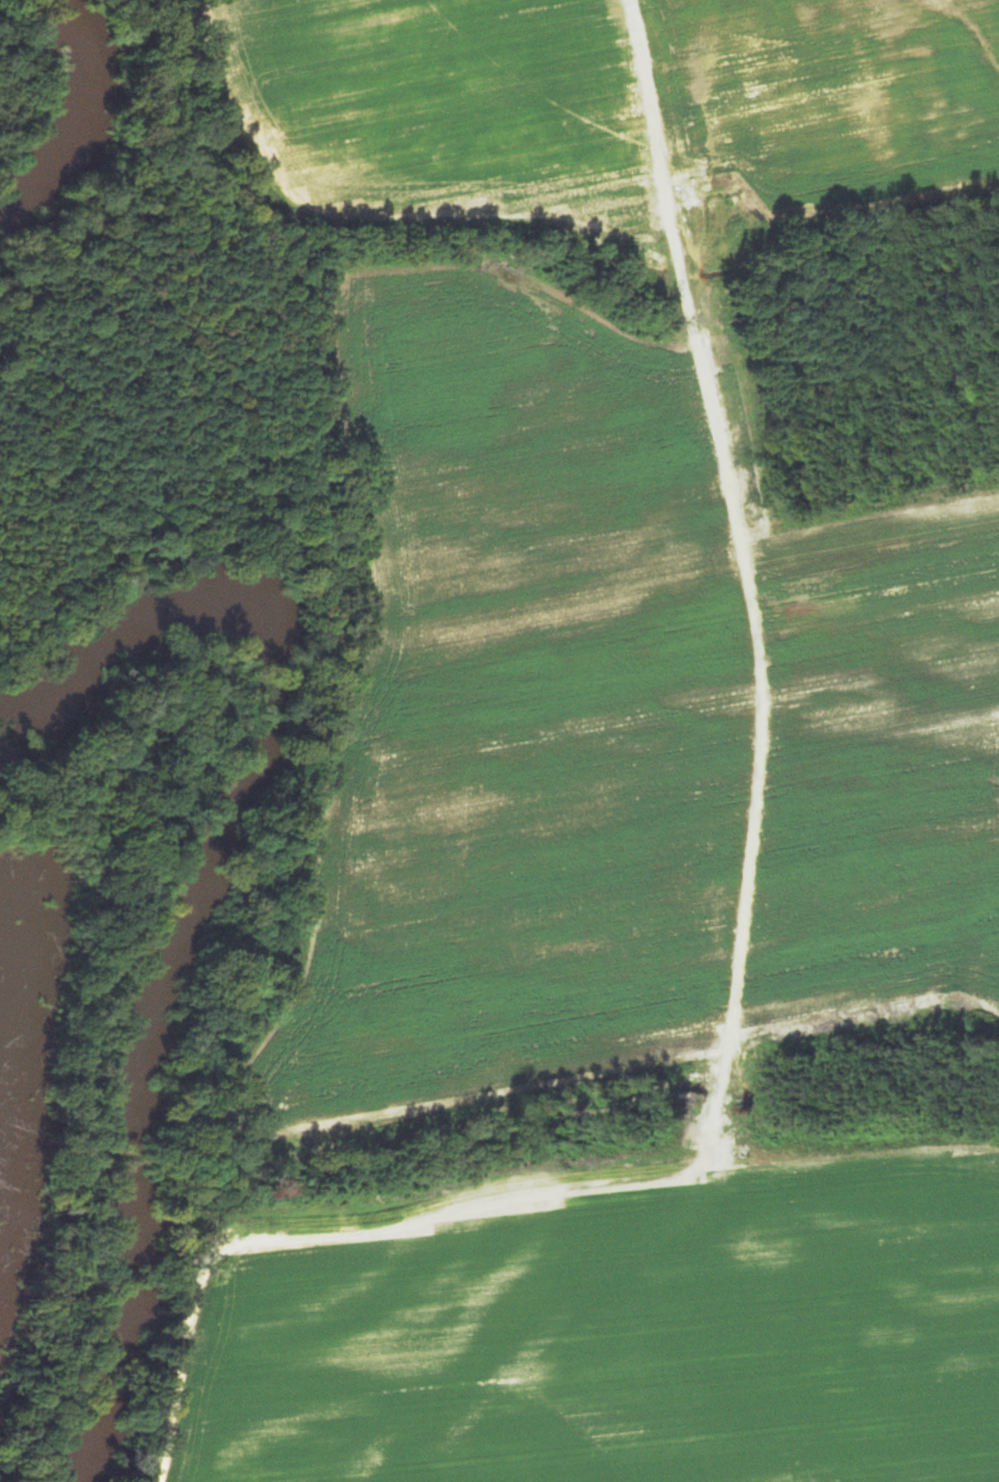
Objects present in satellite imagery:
river: (64, 105)
road: (698, 313)
river: (174, 902)

